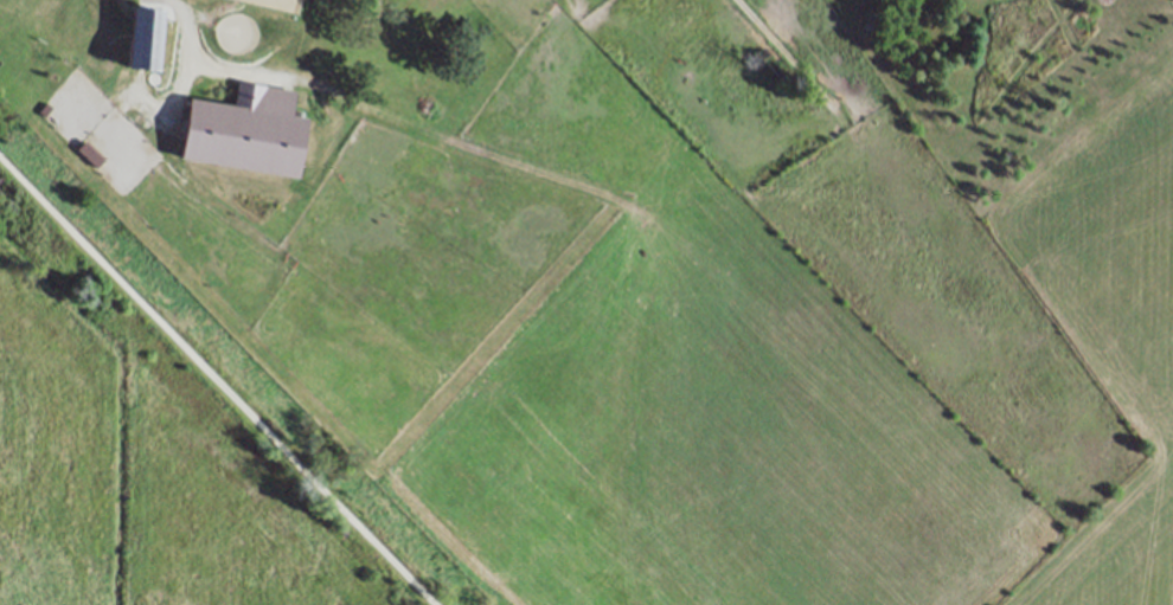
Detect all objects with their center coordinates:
road: (185, 25)
building: (143, 39)
road: (216, 381)

